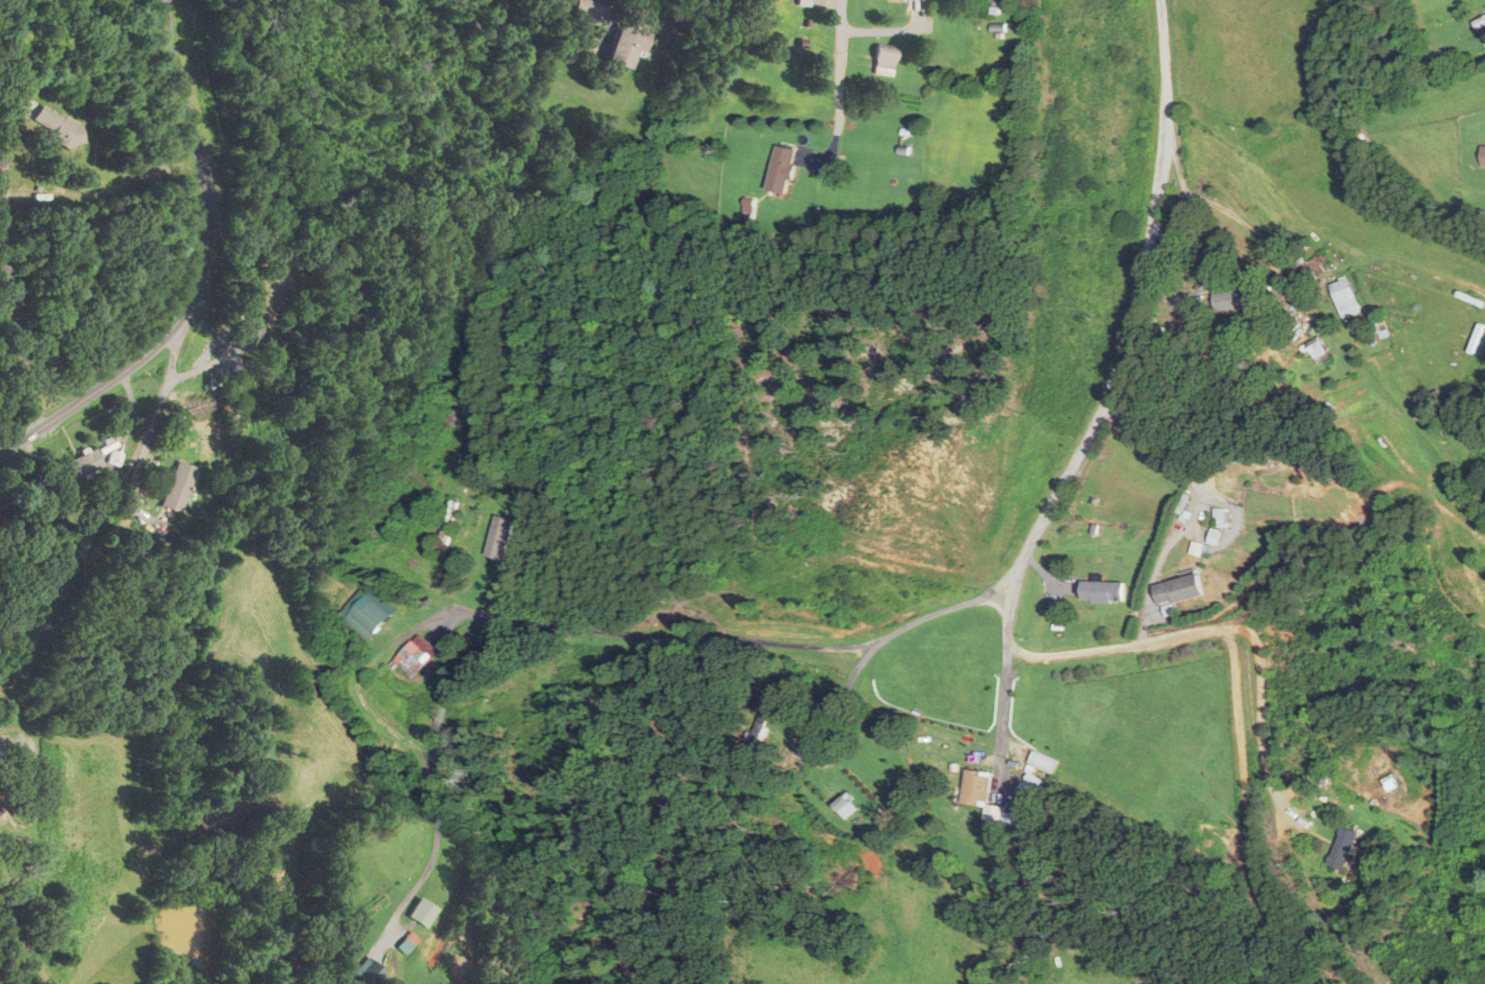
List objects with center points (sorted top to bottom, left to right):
building: (591, 11)
road: (696, 18)
building: (1479, 22)
building: (623, 49)
building: (883, 60)
road: (839, 75)
building: (57, 128)
building: (1481, 156)
building: (780, 170)
building: (1308, 269)
road: (202, 272)
road: (7, 273)
building: (1344, 297)
building: (1229, 298)
building: (1378, 327)
building: (245, 335)
building: (1316, 349)
building: (82, 464)
building: (176, 488)
building: (9, 512)
building: (446, 523)
building: (498, 538)
building: (1176, 589)
building: (1100, 591)
building: (368, 612)
road: (1008, 621)
road: (590, 628)
building: (415, 657)
road: (843, 695)
road: (1001, 718)
building: (1041, 761)
building: (1029, 787)
building: (980, 796)
building: (838, 797)
building: (1341, 847)
building: (424, 913)
building: (410, 943)
building: (369, 972)

